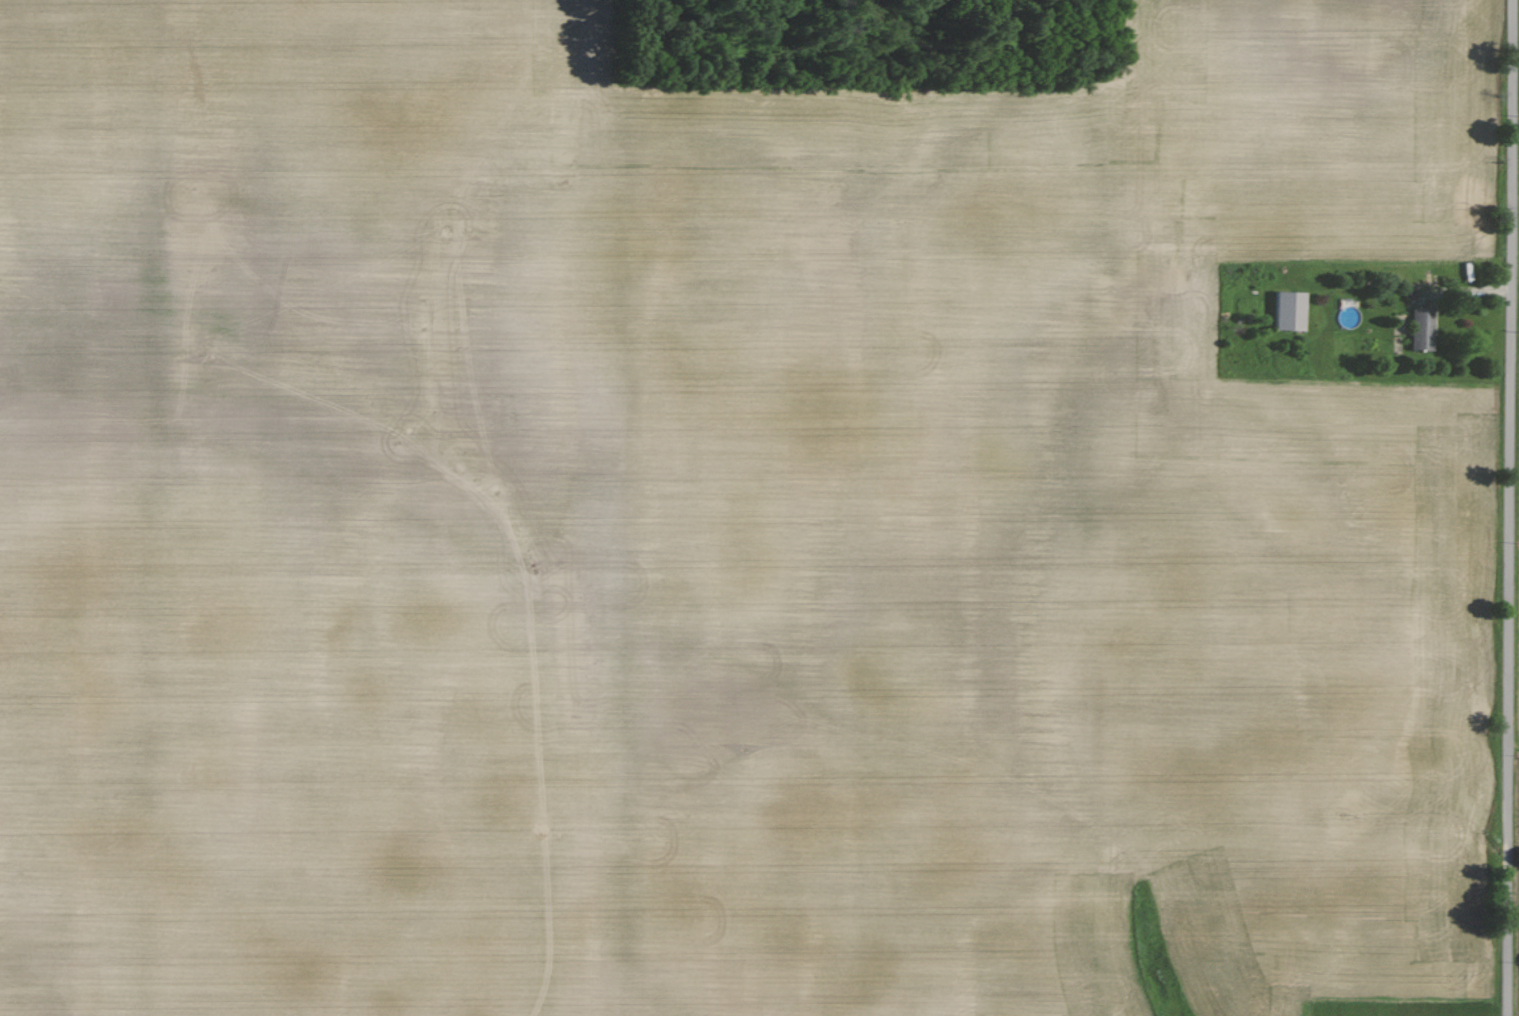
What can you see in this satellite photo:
building: (1285, 311)
building: (1419, 330)
road: (1509, 508)

